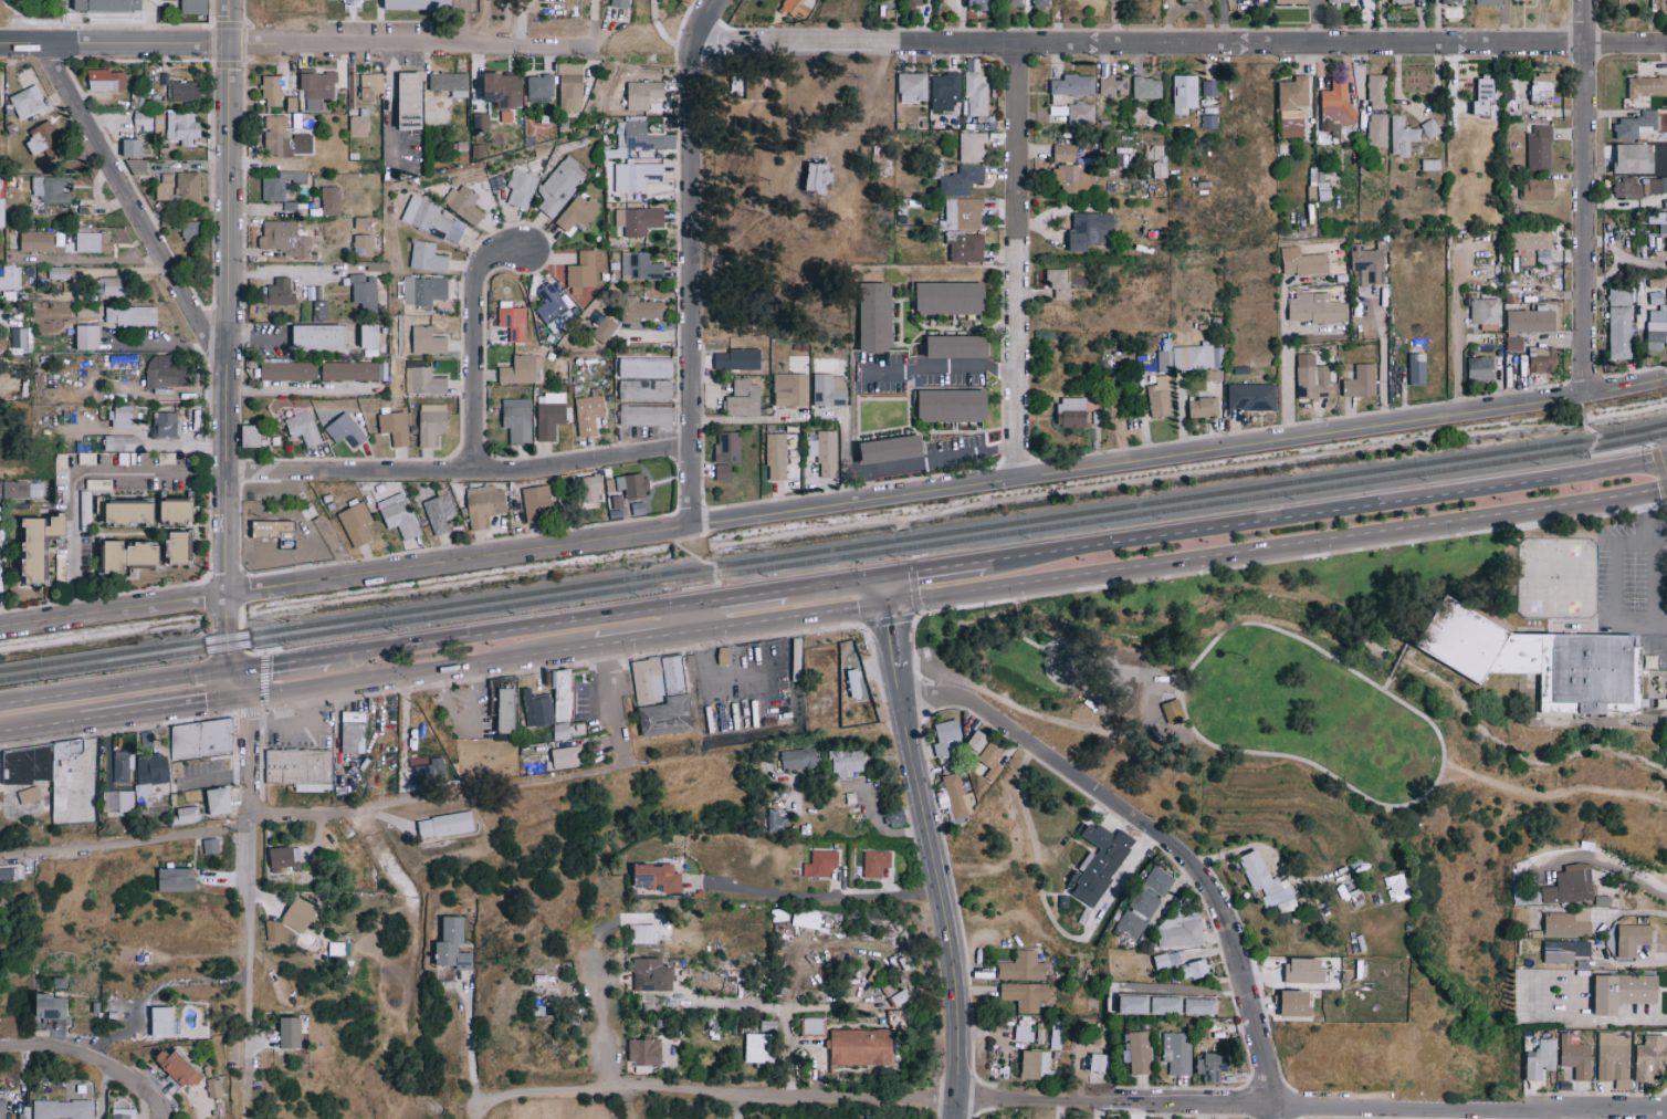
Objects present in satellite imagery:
building: (1519, 0)
building: (41, 1)
building: (1291, 1)
building: (1341, 1)
building: (1401, 1)
building: (1451, 1)
building: (620, 2)
building: (914, 2)
building: (1014, 2)
building: (1041, 2)
building: (1644, 2)
building: (415, 3)
building: (981, 4)
building: (107, 7)
building: (797, 7)
building: (193, 8)
road: (233, 22)
road: (520, 22)
road: (593, 22)
road: (703, 22)
road: (1437, 22)
road: (1223, 23)
road: (1318, 23)
road: (1665, 23)
road: (659, 31)
road: (116, 43)
road: (410, 45)
road: (1176, 46)
building: (107, 80)
building: (450, 83)
building: (755, 84)
building: (1073, 84)
building: (1113, 84)
building: (371, 85)
building: (541, 85)
building: (1643, 85)
building: (570, 86)
building: (913, 86)
building: (1543, 86)
building: (1147, 87)
building: (1209, 87)
building: (317, 88)
building: (506, 88)
building: (945, 90)
building: (975, 90)
building: (184, 91)
building: (273, 91)
building: (1377, 91)
building: (1186, 93)
building: (643, 94)
building: (1485, 97)
building: (412, 100)
building: (27, 101)
building: (0, 102)
building: (1338, 102)
building: (1293, 105)
road: (390, 106)
building: (1081, 113)
building: (1633, 124)
building: (359, 125)
building: (182, 126)
building: (654, 126)
building: (1430, 128)
building: (1377, 129)
building: (628, 135)
building: (1402, 135)
building: (285, 138)
building: (45, 139)
building: (133, 146)
building: (971, 146)
building: (1540, 146)
building: (1155, 151)
building: (1065, 153)
building: (638, 175)
building: (819, 175)
building: (1074, 178)
building: (962, 180)
building: (280, 184)
building: (560, 185)
building: (1656, 185)
building: (1318, 186)
building: (179, 187)
building: (51, 188)
building: (521, 188)
building: (1539, 189)
building: (1622, 189)
road: (1586, 197)
building: (332, 200)
building: (463, 203)
road: (135, 207)
building: (579, 212)
building: (1, 213)
building: (964, 213)
building: (431, 219)
building: (1656, 219)
building: (638, 220)
building: (367, 222)
building: (1091, 229)
building: (190, 231)
building: (285, 238)
building: (1531, 239)
building: (36, 241)
building: (88, 241)
building: (364, 245)
building: (966, 247)
building: (427, 257)
building: (1543, 257)
road: (1622, 259)
road: (90, 262)
road: (1017, 262)
building: (1302, 262)
building: (640, 265)
building: (1366, 265)
building: (59, 272)
building: (581, 272)
building: (10, 276)
building: (1059, 282)
road: (690, 284)
building: (115, 285)
building: (364, 289)
building: (282, 290)
building: (423, 290)
building: (9, 294)
building: (951, 297)
building: (1655, 297)
building: (641, 307)
building: (1317, 307)
building: (553, 308)
building: (1486, 313)
building: (130, 315)
building: (877, 317)
road: (226, 318)
building: (512, 320)
building: (1531, 320)
building: (604, 330)
building: (1654, 330)
building: (1616, 332)
building: (19, 336)
building: (88, 336)
building: (319, 336)
building: (371, 336)
building: (1666, 338)
road: (256, 339)
building: (428, 341)
road: (480, 343)
building: (2, 344)
building: (1514, 344)
road: (157, 345)
building: (960, 346)
road: (1456, 354)
road: (1383, 356)
building: (738, 358)
building: (1543, 359)
building: (1164, 360)
road: (1287, 362)
building: (646, 367)
building: (1480, 367)
building: (1418, 368)
building: (518, 369)
building: (289, 370)
building: (349, 370)
road: (939, 372)
building: (167, 373)
building: (1311, 377)
building: (423, 380)
building: (1361, 380)
road: (301, 388)
building: (646, 389)
building: (790, 389)
building: (827, 391)
building: (1251, 396)
building: (1158, 397)
building: (743, 398)
building: (954, 405)
road: (1582, 405)
building: (1203, 407)
building: (1072, 411)
building: (588, 414)
building: (549, 415)
building: (646, 415)
building: (123, 416)
building: (517, 420)
road: (1584, 421)
building: (432, 422)
building: (165, 425)
building: (395, 427)
building: (303, 428)
building: (346, 430)
railway: (1661, 433)
building: (252, 435)
building: (727, 447)
building: (894, 449)
building: (825, 452)
road: (1612, 452)
building: (778, 454)
road: (927, 460)
road: (460, 468)
building: (723, 471)
road: (76, 474)
building: (610, 484)
building: (635, 485)
road: (945, 488)
building: (21, 489)
building: (590, 489)
road: (1657, 490)
building: (537, 503)
building: (484, 505)
building: (180, 511)
building: (133, 512)
building: (439, 514)
building: (399, 515)
road: (1277, 520)
building: (356, 523)
building: (272, 527)
railway: (915, 536)
road: (691, 538)
building: (1, 542)
building: (42, 544)
building: (181, 546)
railway: (910, 546)
road: (1267, 548)
building: (130, 555)
road: (693, 555)
road: (226, 574)
road: (714, 574)
parking lot: (1634, 574)
road: (888, 590)
road: (720, 592)
road: (1017, 594)
road: (104, 595)
road: (75, 605)
road: (112, 609)
road: (1019, 615)
road: (608, 617)
road: (240, 618)
road: (698, 619)
road: (795, 620)
road: (1639, 624)
road: (1660, 624)
road: (223, 632)
road: (891, 632)
road: (1413, 637)
road: (242, 638)
road: (650, 642)
road: (254, 652)
building: (763, 655)
railway: (82, 658)
road: (1399, 660)
building: (1541, 661)
road: (279, 665)
railway: (82, 667)
road: (423, 676)
park: (1374, 678)
road: (898, 682)
road: (1388, 684)
road: (238, 688)
road: (114, 689)
building: (565, 699)
building: (664, 701)
building: (537, 709)
building: (1173, 710)
road: (749, 711)
road: (165, 714)
building: (504, 718)
road: (1048, 718)
road: (293, 721)
road: (465, 724)
road: (41, 732)
building: (355, 734)
building: (565, 734)
building: (947, 738)
building: (201, 739)
building: (987, 753)
building: (65, 754)
building: (568, 757)
building: (798, 759)
building: (847, 762)
building: (122, 766)
building: (150, 771)
building: (428, 771)
building: (302, 773)
building: (25, 777)
road: (546, 777)
road: (1554, 793)
building: (953, 796)
building: (65, 798)
building: (117, 801)
building: (220, 801)
road: (1378, 802)
road: (306, 813)
building: (188, 814)
building: (776, 822)
building: (445, 825)
road: (1158, 834)
road: (125, 841)
building: (211, 846)
building: (281, 858)
road: (1603, 861)
building: (1101, 862)
building: (820, 864)
building: (876, 864)
building: (10, 876)
building: (659, 877)
building: (176, 879)
building: (1265, 879)
building: (1158, 881)
building: (1571, 885)
road: (815, 897)
road: (941, 902)
building: (1144, 903)
road: (250, 911)
building: (298, 914)
building: (806, 918)
building: (1569, 923)
building: (1129, 929)
building: (279, 932)
building: (1180, 932)
building: (642, 933)
building: (1633, 939)
building: (453, 944)
building: (339, 949)
building: (1565, 951)
building: (1023, 968)
building: (1195, 970)
building: (1304, 971)
building: (652, 975)
road: (1184, 990)
building: (1625, 992)
road: (1572, 994)
building: (1026, 995)
building: (1298, 1003)
building: (1134, 1004)
building: (1166, 1005)
building: (52, 1006)
building: (1201, 1006)
road: (597, 1013)
road: (1576, 1016)
building: (164, 1021)
building: (814, 1025)
building: (292, 1033)
building: (1024, 1033)
road: (469, 1039)
building: (757, 1047)
building: (861, 1047)
building: (646, 1052)
building: (1137, 1052)
building: (1177, 1053)
building: (1576, 1056)
building: (1613, 1056)
road: (93, 1058)
building: (1650, 1058)
building: (1542, 1059)
building: (1098, 1063)
building: (1036, 1065)
building: (1212, 1067)
building: (179, 1068)
building: (214, 1088)
road: (102, 1091)
road: (1070, 1102)
building: (2, 1109)
building: (63, 1109)
road: (955, 1110)
road: (1276, 1111)
building: (123, 1113)

